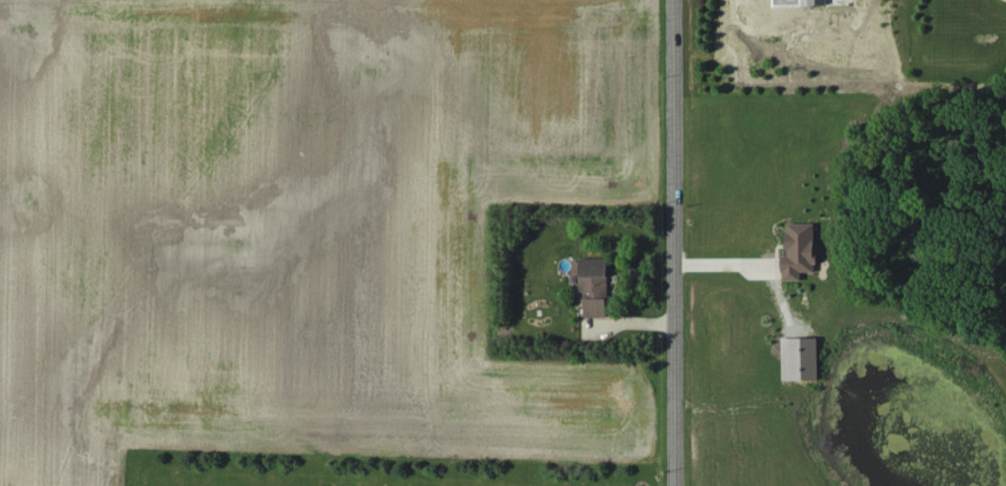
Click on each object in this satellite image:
building: (817, 2)
road: (670, 243)
building: (798, 250)
road: (725, 264)
building: (592, 284)
building: (798, 358)

